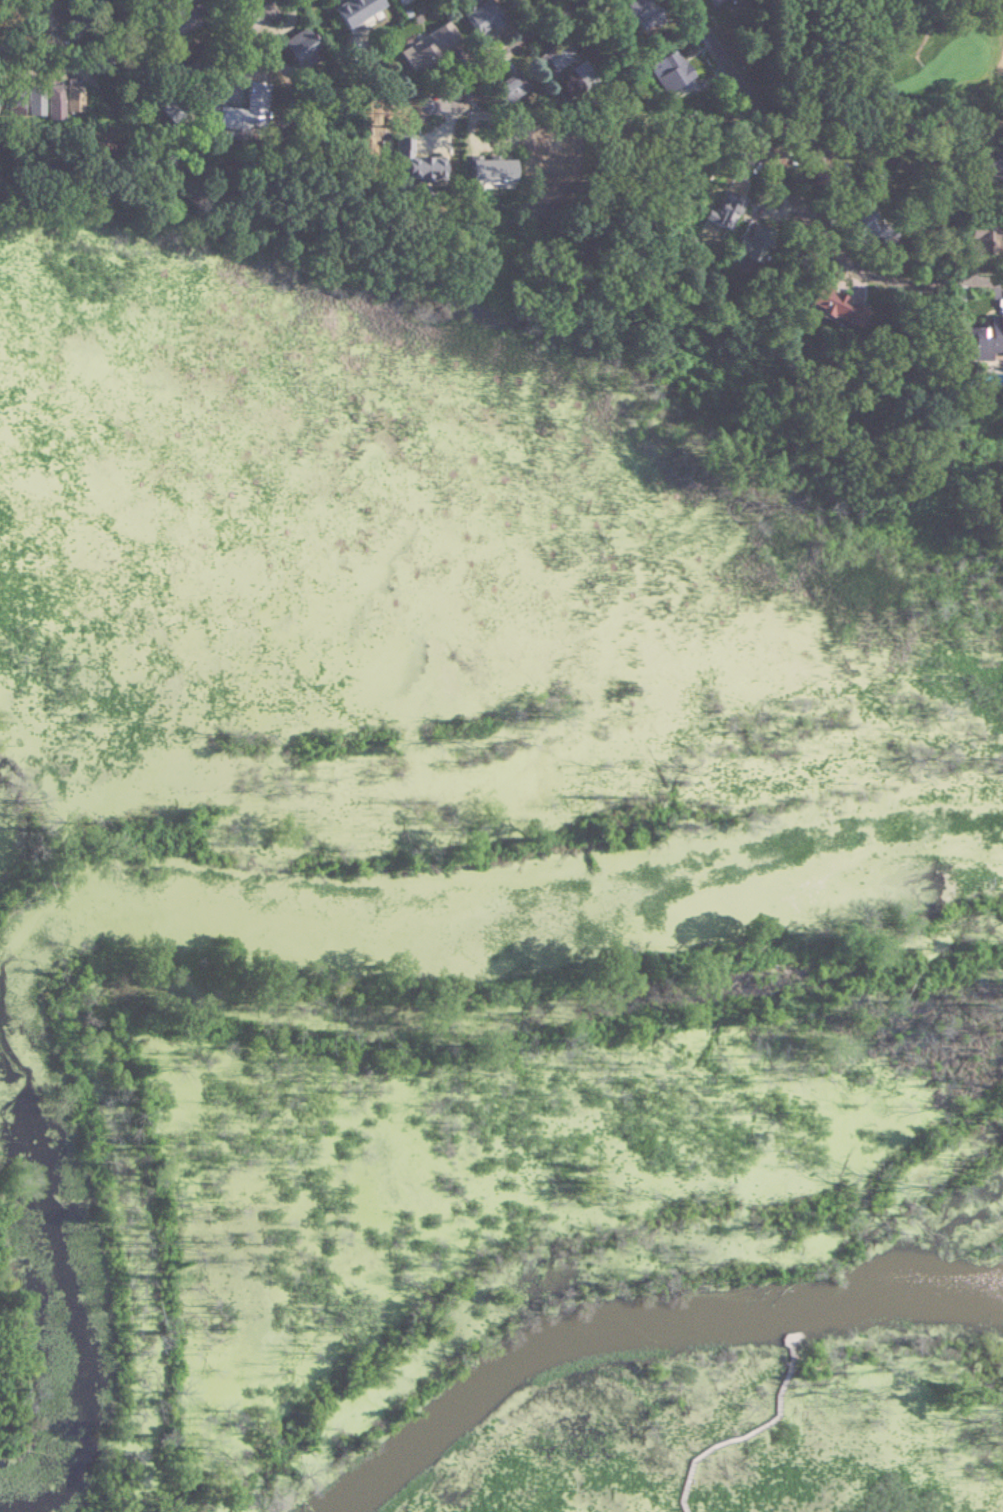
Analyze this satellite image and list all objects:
building: (225, 0)
building: (394, 0)
building: (712, 2)
building: (351, 10)
road: (273, 12)
building: (634, 13)
building: (474, 17)
road: (926, 27)
building: (426, 45)
building: (295, 46)
road: (499, 50)
building: (552, 58)
building: (666, 71)
road: (197, 86)
building: (505, 89)
building: (3, 106)
road: (584, 108)
building: (214, 119)
road: (764, 137)
building: (403, 162)
building: (484, 170)
building: (864, 227)
building: (988, 237)
road: (925, 282)
building: (813, 295)
building: (968, 344)
river: (643, 1321)
road: (751, 1430)

